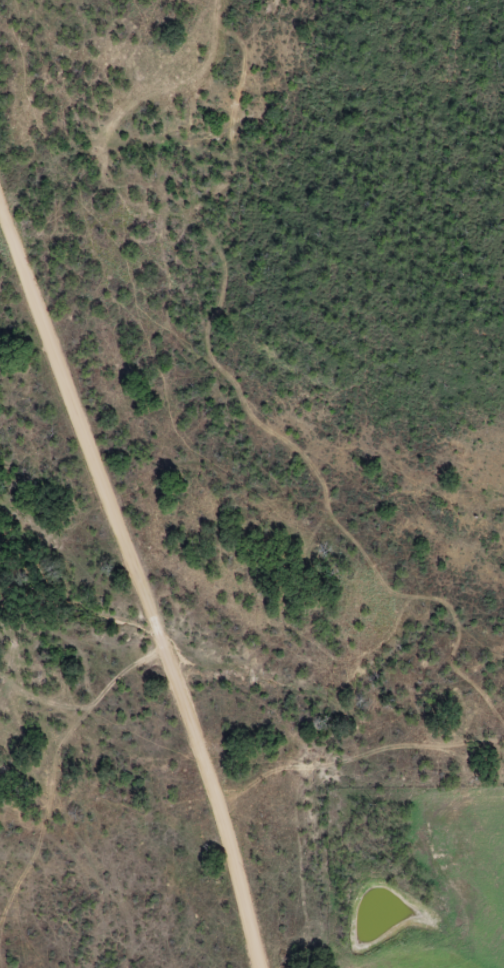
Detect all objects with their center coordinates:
road: (140, 584)

